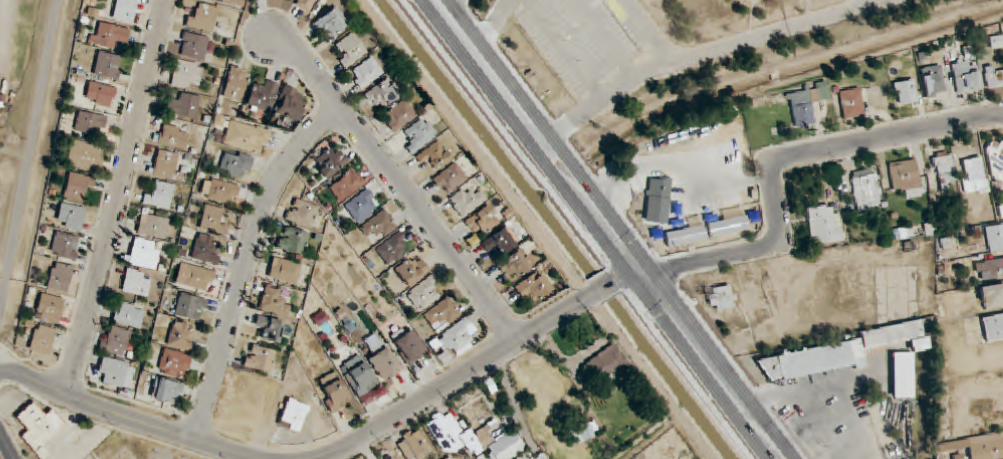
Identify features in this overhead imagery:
building: (218, 1)
road: (445, 2)
building: (305, 4)
building: (125, 10)
building: (203, 18)
building: (331, 23)
road: (495, 25)
road: (575, 29)
road: (649, 31)
building: (109, 35)
road: (607, 37)
building: (194, 46)
building: (663, 46)
road: (564, 48)
building: (351, 50)
road: (706, 51)
building: (108, 65)
building: (366, 72)
building: (186, 75)
building: (966, 77)
building: (993, 77)
building: (933, 81)
building: (236, 83)
building: (905, 92)
building: (383, 93)
building: (100, 94)
building: (262, 96)
building: (1, 100)
building: (806, 102)
building: (852, 103)
building: (185, 106)
building: (399, 115)
building: (90, 123)
building: (420, 134)
building: (173, 136)
building: (246, 137)
road: (28, 149)
building: (435, 155)
building: (84, 156)
building: (715, 159)
road: (784, 160)
building: (996, 160)
building: (330, 162)
building: (235, 164)
building: (166, 165)
building: (944, 172)
building: (973, 174)
building: (450, 178)
building: (906, 179)
road: (399, 181)
building: (78, 186)
building: (346, 186)
building: (866, 188)
building: (219, 191)
building: (160, 195)
road: (118, 198)
building: (658, 200)
building: (466, 201)
building: (362, 206)
building: (302, 213)
building: (71, 216)
building: (213, 220)
building: (379, 225)
building: (824, 225)
building: (153, 226)
road: (579, 228)
road: (613, 228)
building: (995, 237)
building: (293, 240)
building: (500, 241)
building: (65, 245)
building: (206, 248)
building: (393, 249)
building: (144, 253)
road: (247, 262)
building: (516, 264)
building: (992, 269)
building: (285, 270)
building: (411, 270)
traffic signals: (647, 273)
building: (60, 277)
building: (195, 277)
building: (137, 282)
building: (534, 286)
building: (424, 293)
building: (992, 296)
building: (721, 298)
building: (274, 301)
building: (190, 307)
building: (50, 309)
building: (443, 312)
building: (129, 314)
building: (271, 329)
building: (181, 336)
building: (42, 339)
building: (116, 340)
building: (455, 340)
building: (409, 344)
building: (836, 353)
building: (260, 358)
building: (384, 362)
building: (606, 363)
road: (2, 364)
building: (174, 364)
road: (480, 366)
building: (116, 371)
building: (902, 375)
building: (361, 378)
road: (837, 378)
building: (166, 391)
building: (334, 393)
road: (128, 418)
building: (292, 418)
building: (39, 428)
building: (472, 439)
building: (413, 444)
building: (992, 445)
road: (6, 446)
road: (860, 456)
building: (447, 458)
building: (533, 458)

